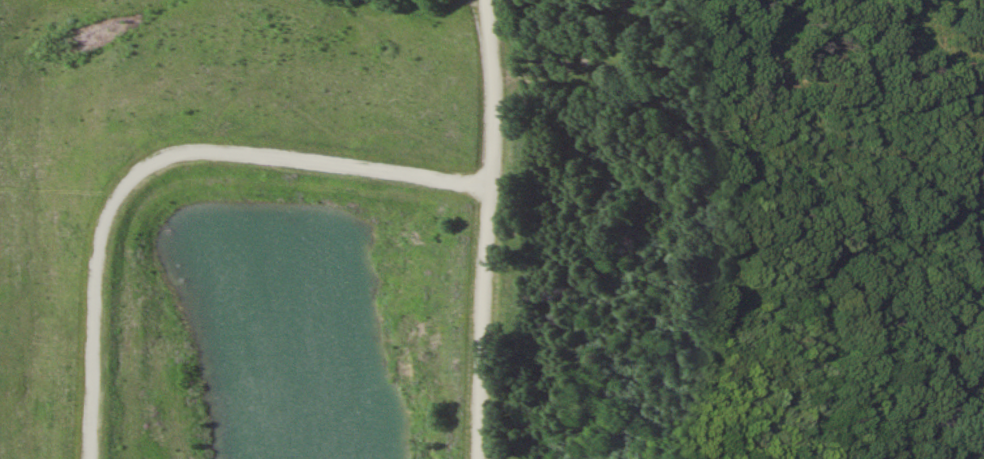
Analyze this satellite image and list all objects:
road: (489, 229)

